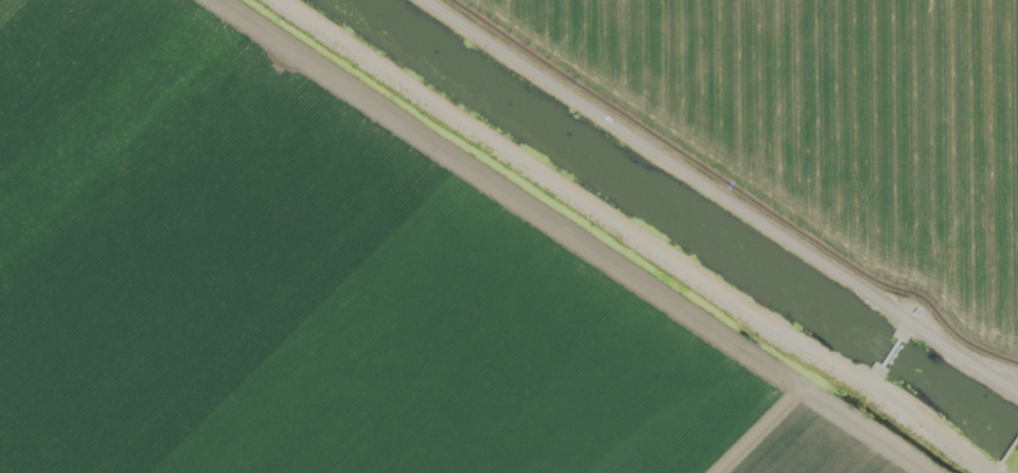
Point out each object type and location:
crop: (823, 127)
road: (769, 159)
crop: (316, 286)

